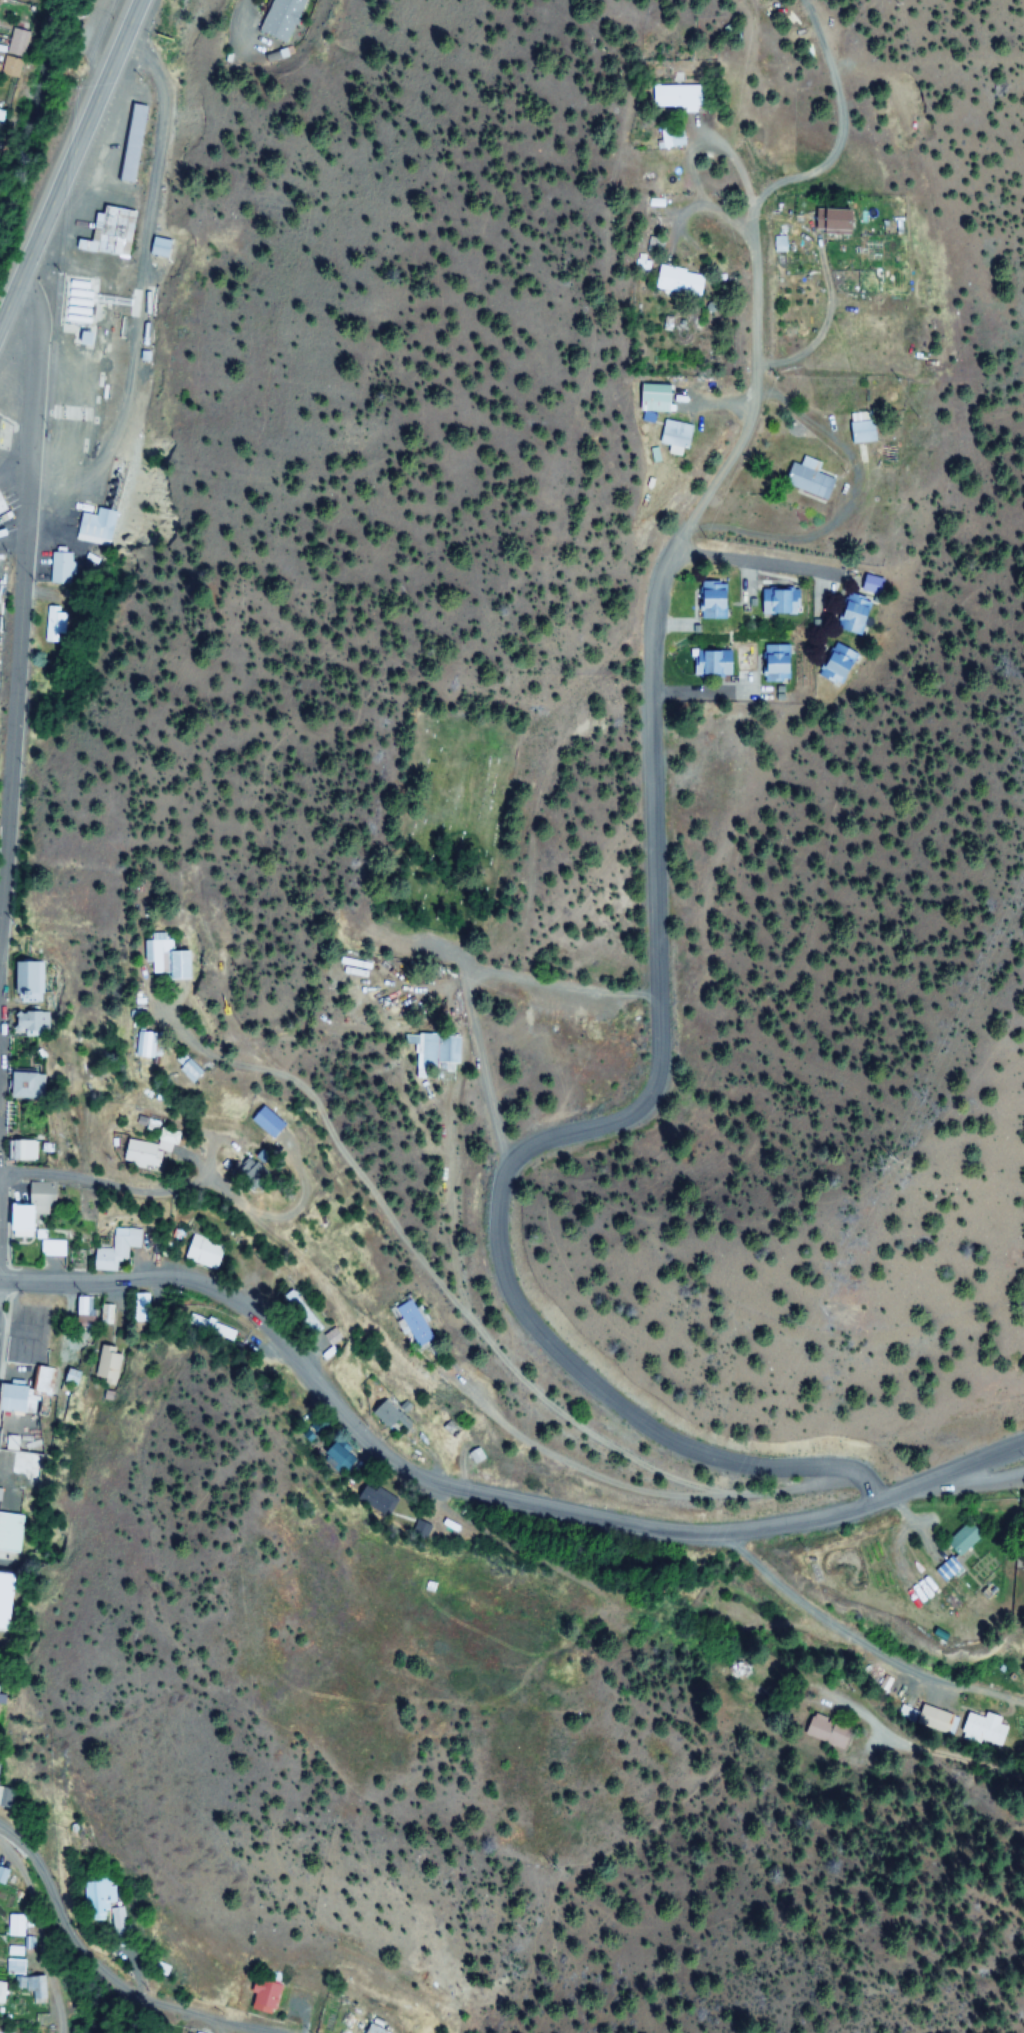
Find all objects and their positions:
building: (10, 52)
building: (670, 97)
building: (130, 143)
road: (70, 159)
road: (738, 167)
road: (711, 209)
building: (828, 220)
building: (107, 233)
road: (751, 240)
building: (675, 281)
building: (85, 305)
road: (824, 323)
road: (719, 404)
building: (858, 428)
building: (673, 437)
building: (805, 478)
road: (30, 530)
road: (757, 565)
building: (711, 601)
building: (775, 602)
building: (847, 618)
building: (833, 662)
building: (715, 663)
building: (774, 664)
park: (453, 837)
building: (162, 960)
building: (430, 1054)
building: (17, 1085)
road: (482, 1097)
building: (263, 1121)
road: (572, 1124)
building: (133, 1156)
road: (125, 1186)
road: (446, 1219)
building: (22, 1222)
building: (52, 1250)
building: (115, 1251)
building: (198, 1253)
road: (440, 1289)
building: (295, 1307)
road: (256, 1318)
building: (406, 1322)
building: (41, 1379)
building: (11, 1399)
building: (379, 1410)
building: (333, 1453)
road: (986, 1480)
road: (631, 1488)
building: (375, 1497)
building: (1023, 1516)
road: (743, 1529)
building: (958, 1537)
building: (941, 1568)
road: (824, 1621)
building: (935, 1719)
building: (979, 1726)
building: (87, 1896)
road: (89, 1918)
building: (16, 1925)
road: (42, 1925)
building: (15, 1965)
building: (257, 1996)
road: (162, 2027)
road: (208, 2027)
building: (374, 2030)

